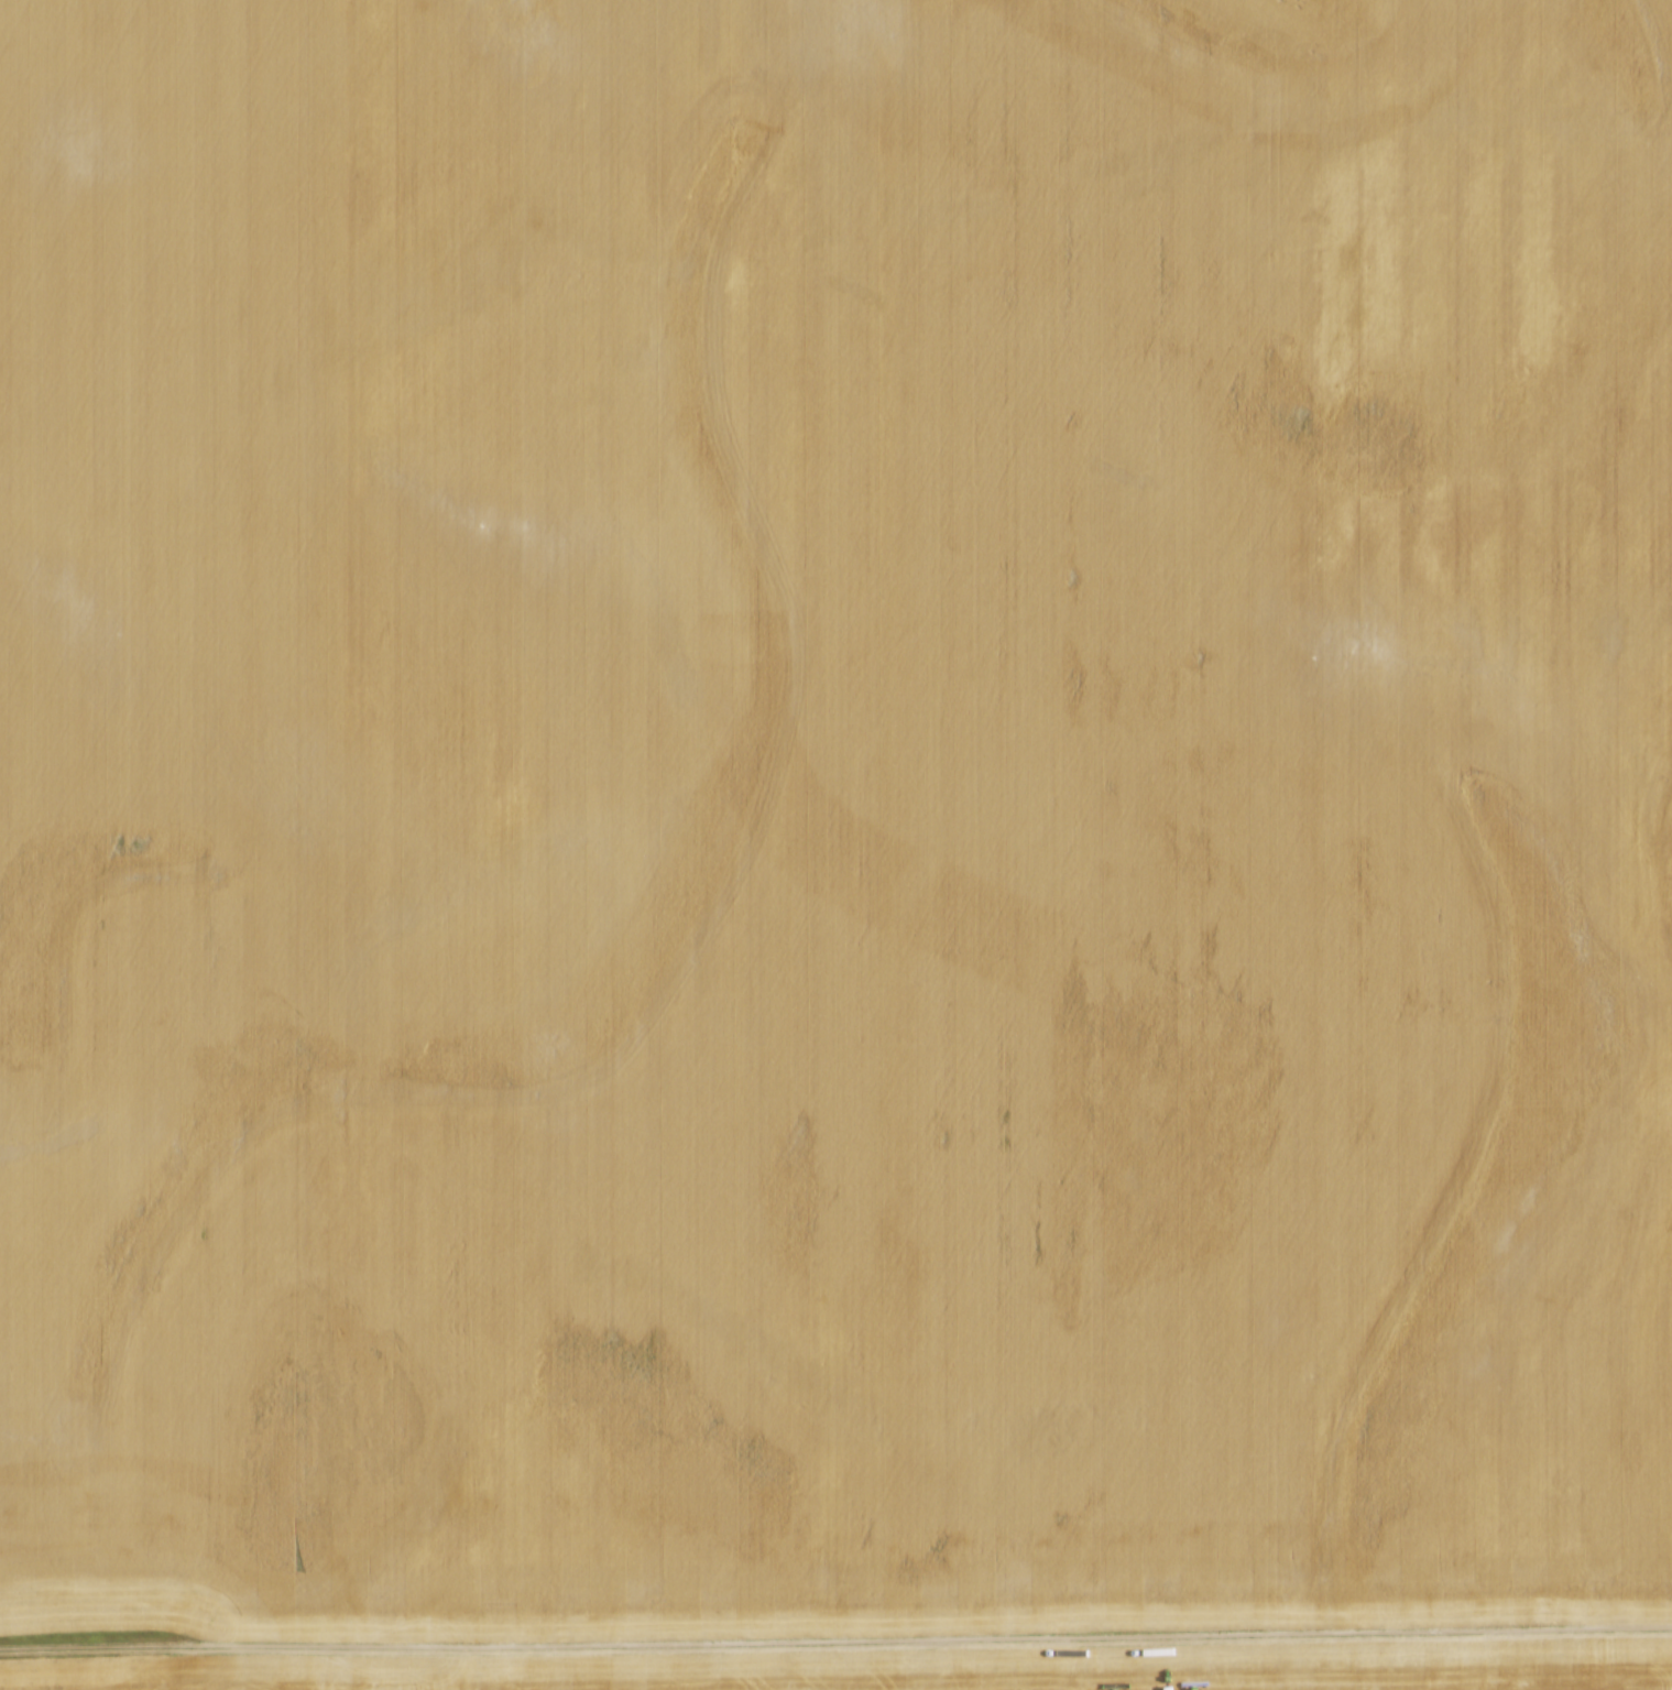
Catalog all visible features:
road: (835, 1648)

